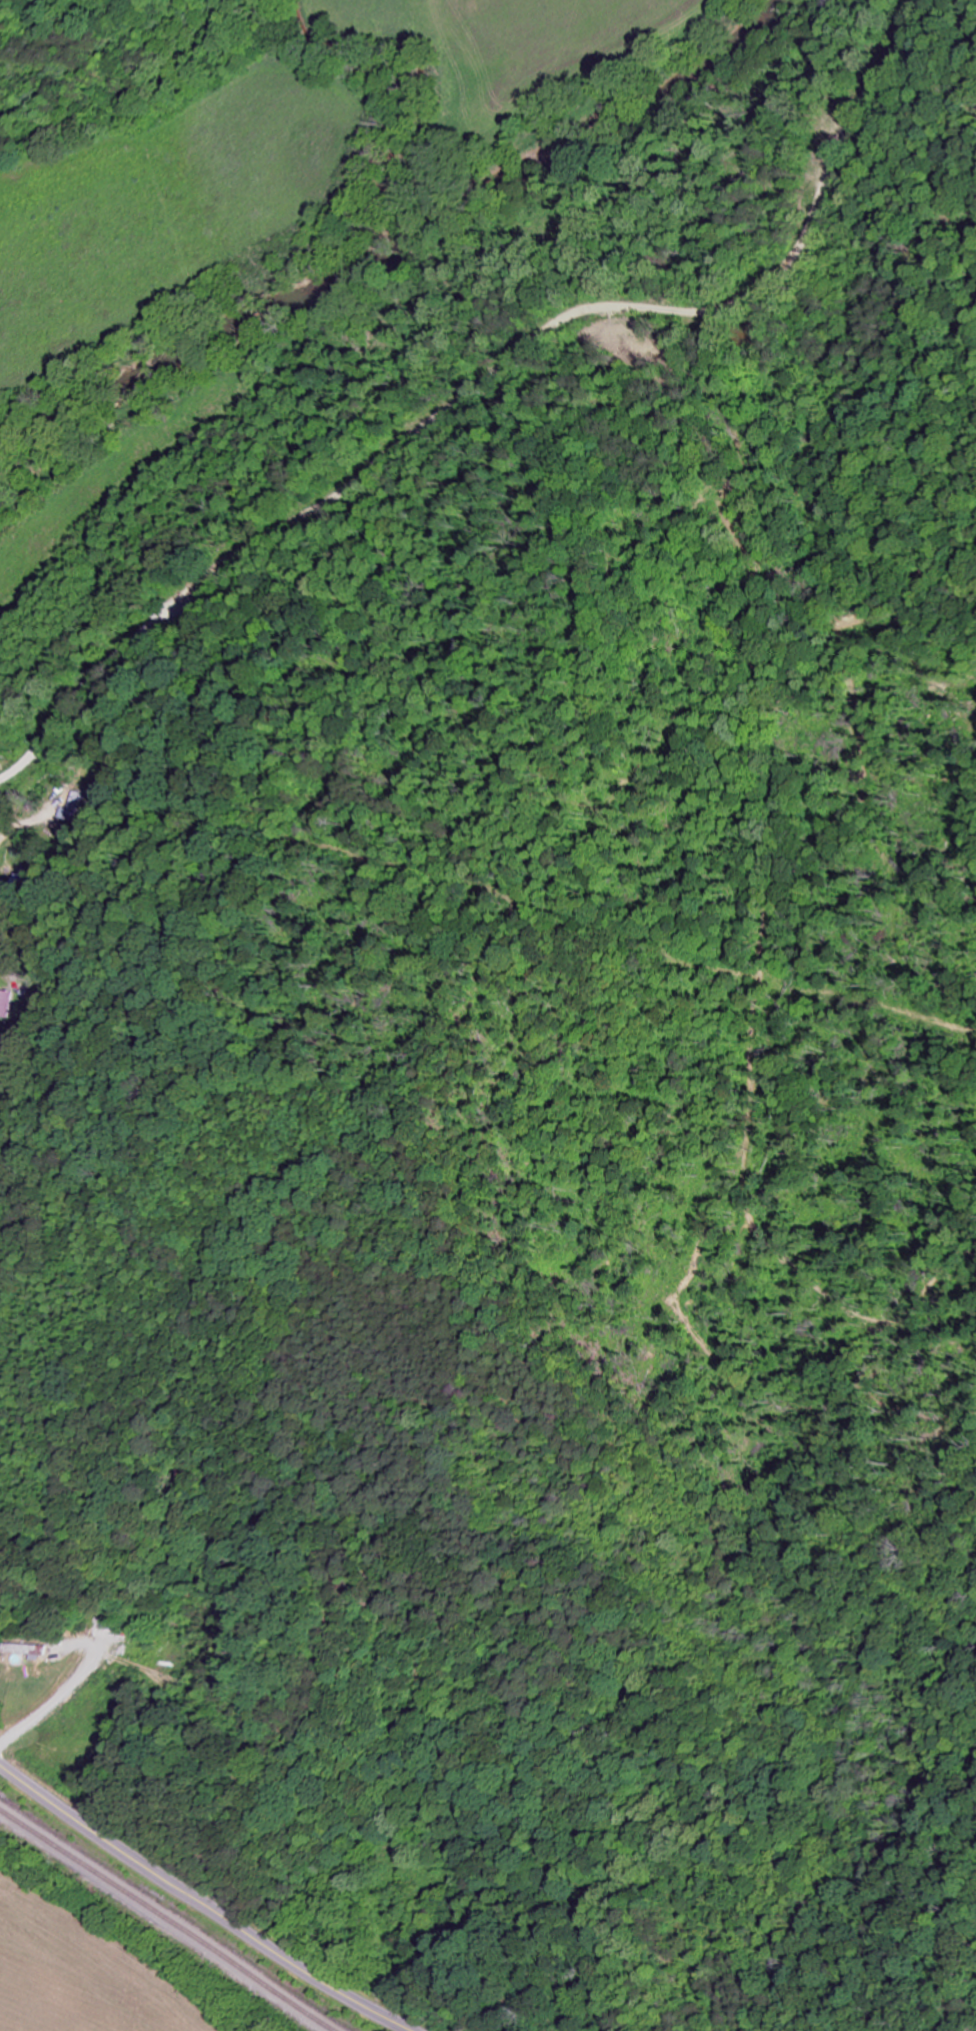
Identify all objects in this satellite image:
road: (489, 376)
building: (71, 808)
building: (4, 998)
building: (18, 1650)
road: (199, 1904)
railway: (160, 1916)

